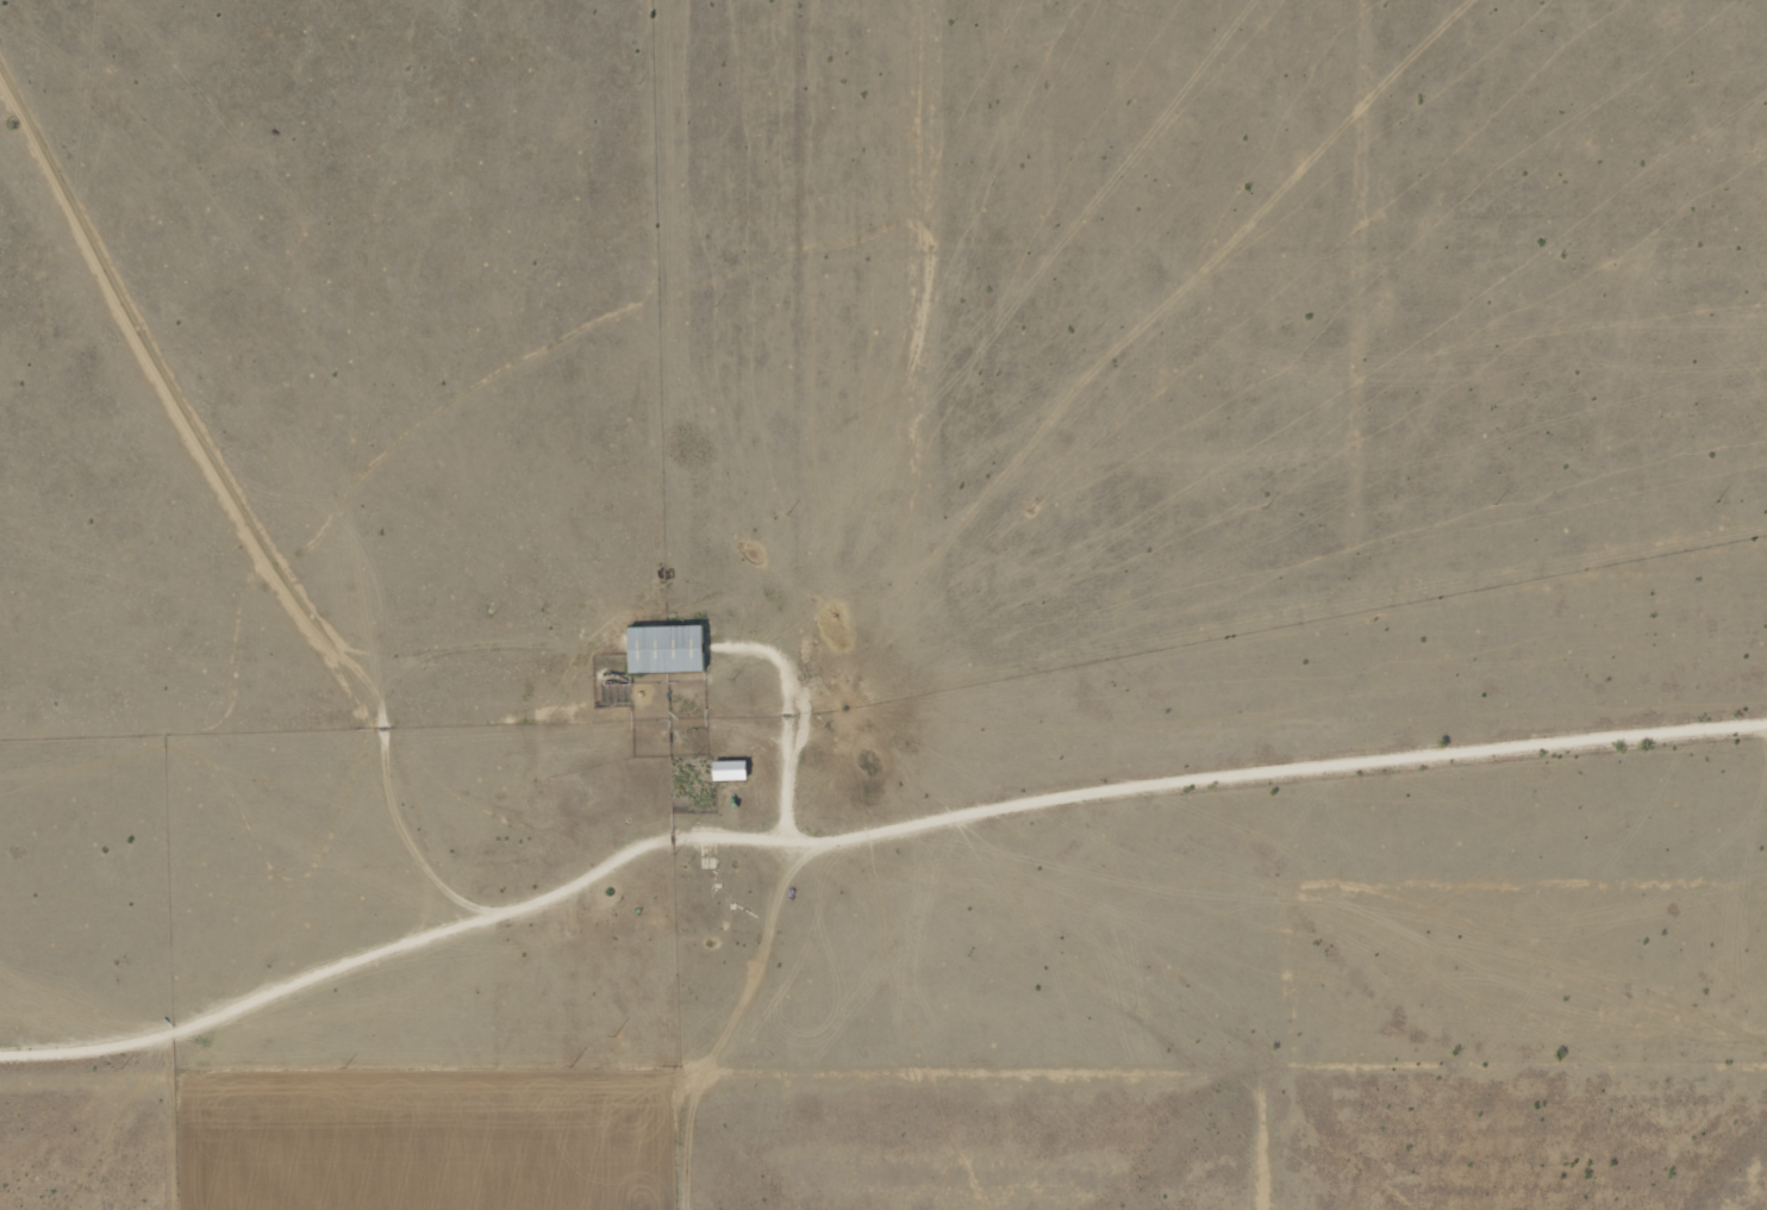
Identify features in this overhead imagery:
road: (249, 600)
building: (663, 649)
building: (728, 771)
road: (870, 911)

